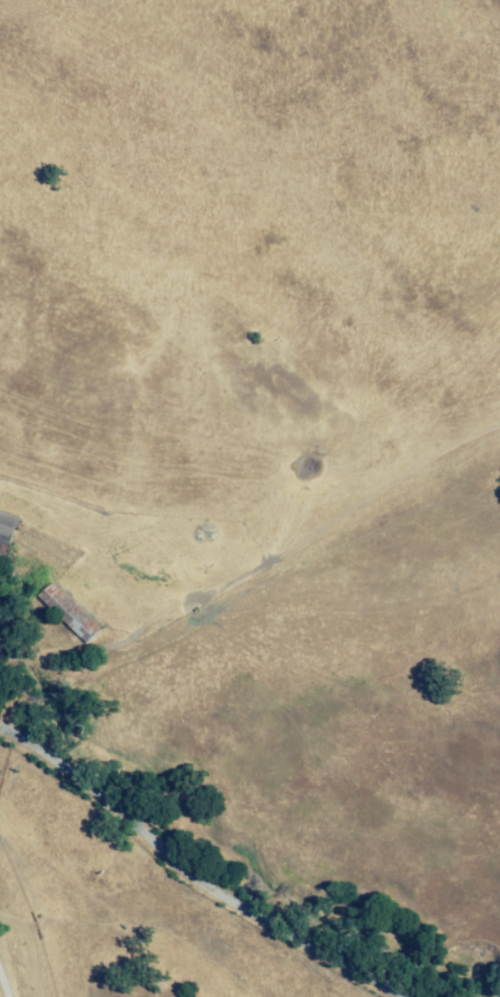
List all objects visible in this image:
building: (5, 537)
building: (68, 616)
road: (187, 879)

